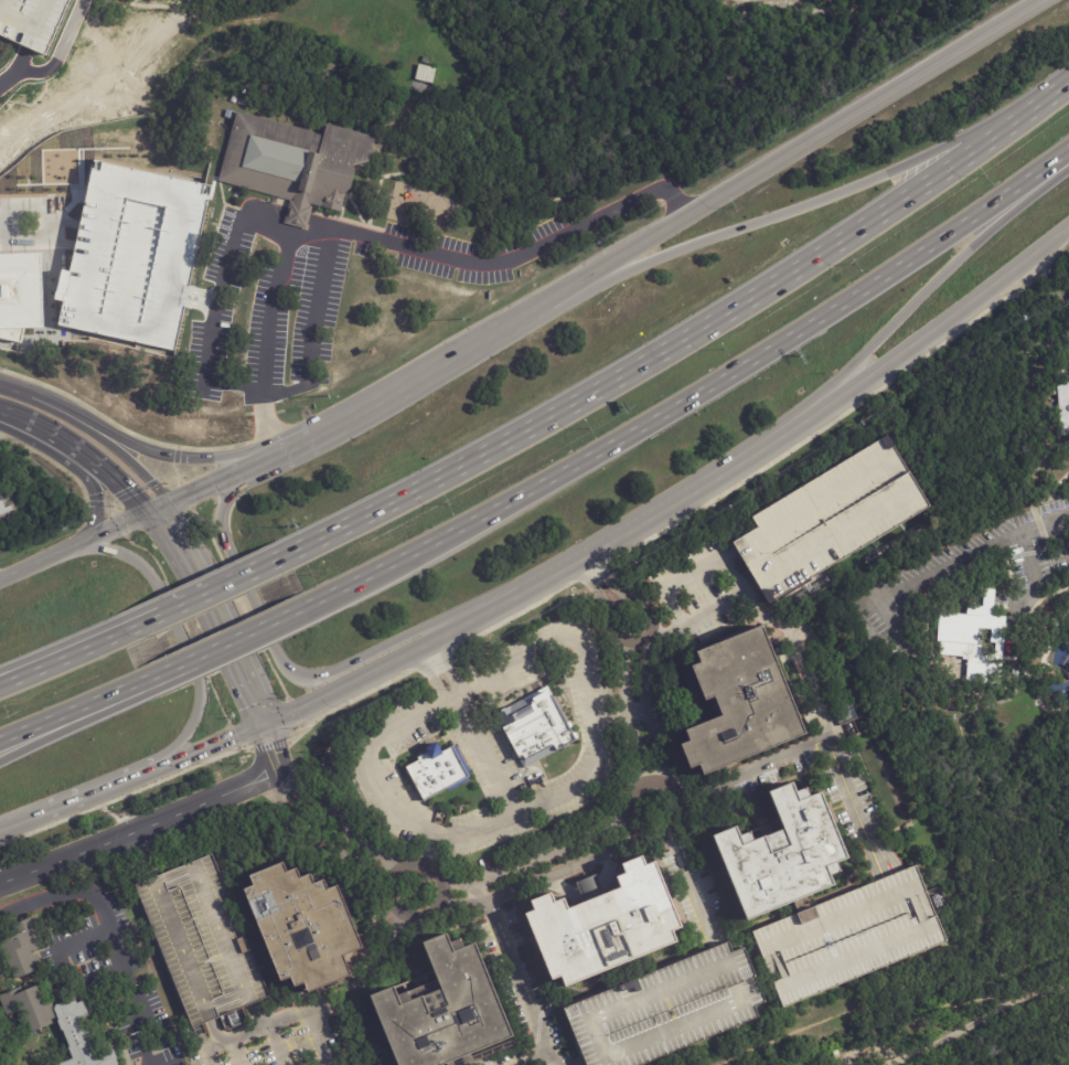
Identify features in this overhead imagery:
building: (32, 21)
parking garage: (32, 21)
road: (55, 58)
building: (425, 78)
road: (902, 89)
building: (234, 99)
road: (1041, 99)
building: (231, 114)
building: (295, 162)
road: (801, 210)
road: (30, 228)
road: (667, 231)
road: (516, 247)
building: (133, 252)
parking garage: (133, 252)
building: (25, 292)
road: (910, 309)
road: (271, 310)
road: (212, 312)
road: (314, 336)
road: (491, 337)
road: (1037, 343)
road: (910, 348)
road: (661, 354)
road: (696, 396)
road: (39, 401)
building: (1065, 404)
road: (372, 405)
park: (941, 414)
road: (1, 420)
road: (24, 427)
road: (327, 428)
road: (278, 451)
road: (158, 455)
road: (127, 459)
road: (1036, 467)
road: (100, 478)
road: (90, 483)
road: (201, 488)
traffic signals: (117, 493)
traffic signals: (191, 493)
road: (1048, 497)
building: (4, 503)
building: (830, 516)
parking garage: (830, 516)
road: (163, 520)
traffic signals: (170, 531)
road: (78, 545)
road: (973, 549)
road: (594, 550)
road: (249, 574)
road: (601, 579)
road: (558, 590)
road: (201, 596)
road: (216, 615)
road: (154, 617)
road: (773, 621)
road: (177, 628)
road: (240, 636)
building: (976, 638)
road: (640, 640)
road: (270, 643)
road: (85, 648)
road: (443, 664)
road: (25, 668)
road: (162, 671)
road: (25, 673)
road: (428, 675)
road: (351, 680)
road: (586, 685)
road: (121, 689)
road: (450, 696)
building: (741, 701)
traffic signals: (256, 703)
road: (653, 709)
road: (259, 712)
road: (630, 712)
building: (845, 715)
road: (49, 722)
building: (537, 727)
road: (50, 734)
traffic signals: (227, 736)
road: (213, 742)
road: (269, 742)
road: (819, 747)
traffic signals: (272, 754)
building: (436, 770)
road: (107, 789)
road: (330, 817)
road: (25, 822)
road: (139, 827)
road: (671, 829)
road: (439, 831)
road: (430, 844)
road: (537, 854)
building: (780, 854)
road: (546, 875)
road: (682, 893)
road: (385, 897)
building: (303, 924)
building: (607, 925)
road: (107, 929)
building: (847, 936)
parking garage: (847, 936)
road: (79, 939)
building: (202, 940)
parking garage: (202, 940)
building: (23, 948)
road: (514, 972)
road: (368, 979)
building: (671, 1008)
parking garage: (671, 1008)
road: (981, 1008)
building: (442, 1010)
road: (277, 1021)
building: (28, 1026)
park: (904, 1032)
road: (276, 1045)
road: (234, 1052)
road: (534, 1059)
road: (147, 1062)
road: (585, 1064)

